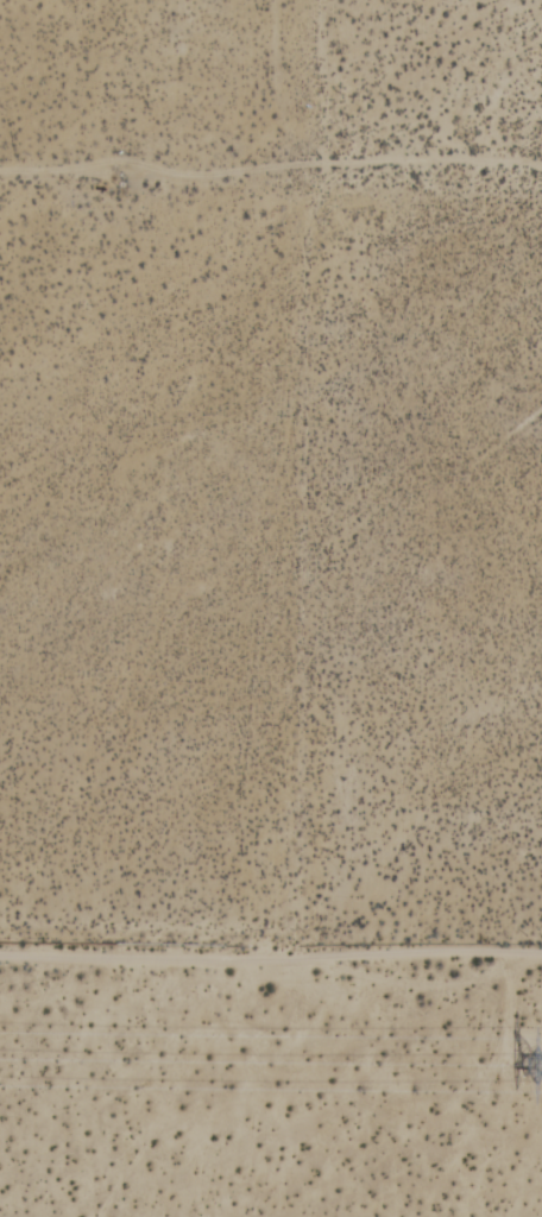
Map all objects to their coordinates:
power tower: (537, 1065)

